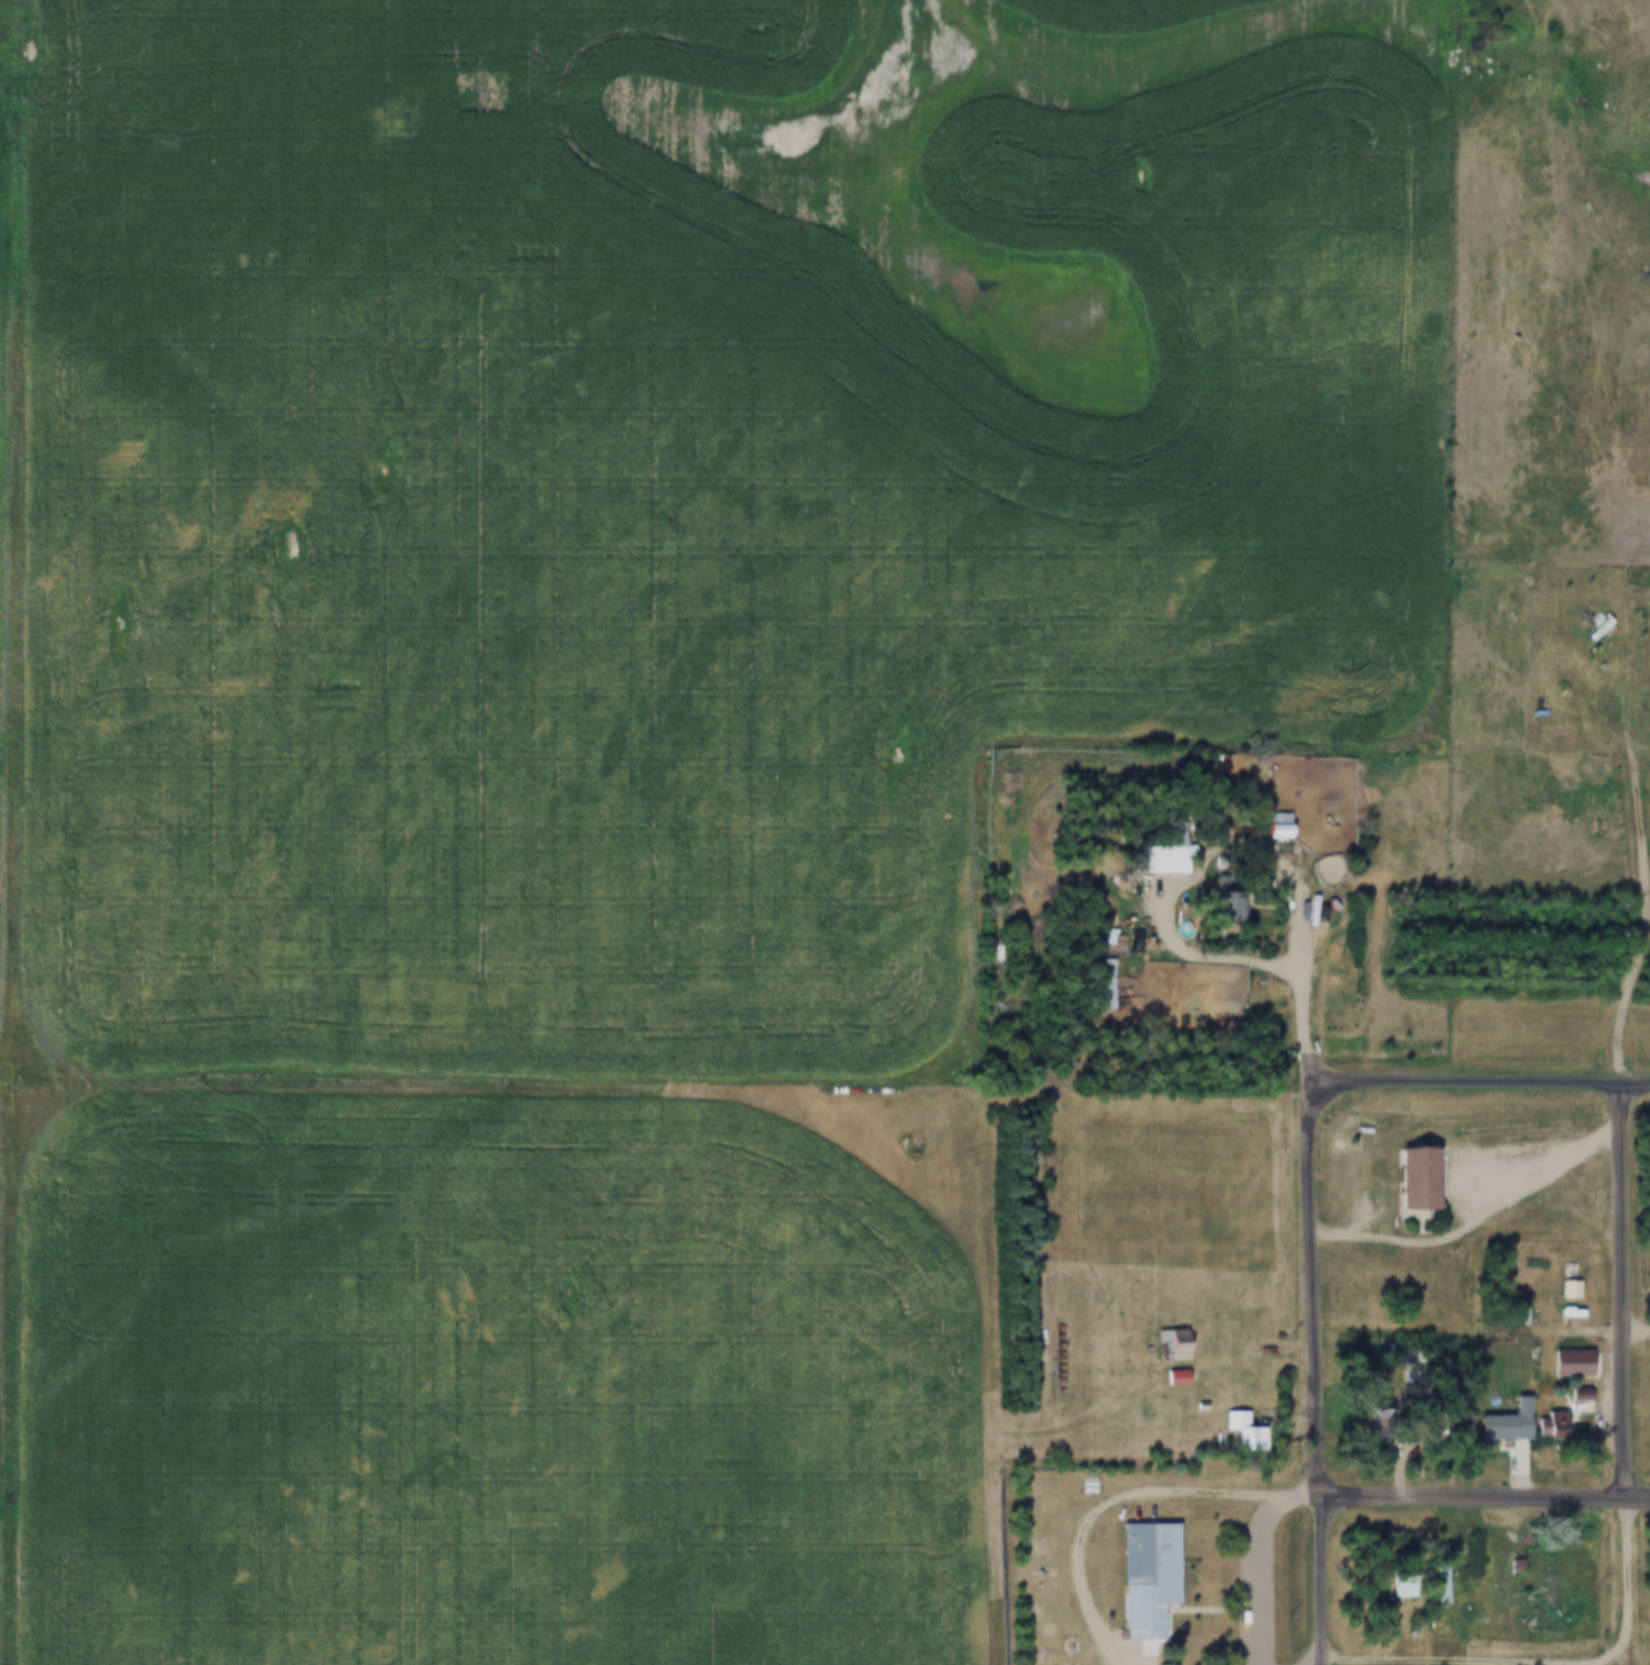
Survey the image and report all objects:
road: (5, 524)
building: (1604, 628)
building: (1634, 654)
building: (1285, 824)
building: (1176, 854)
building: (1238, 903)
road: (1482, 1087)
building: (1417, 1180)
road: (1480, 1223)
road: (1317, 1279)
building: (1574, 1288)
road: (1624, 1294)
building: (1177, 1343)
building: (1181, 1376)
building: (1389, 1421)
building: (1248, 1429)
road: (1127, 1498)
road: (1486, 1500)
building: (1153, 1576)
building: (1508, 1576)
road: (1259, 1579)
building: (1407, 1584)
road: (1628, 1587)
building: (1447, 1588)
road: (1320, 1663)
road: (1325, 1663)
road: (1400, 1663)

